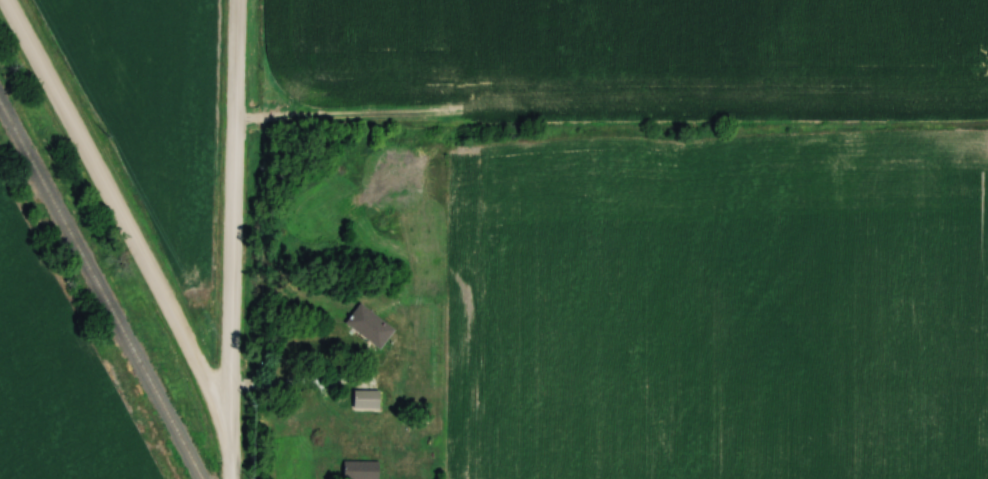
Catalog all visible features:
road: (115, 214)
road: (234, 214)
railway: (101, 290)
building: (368, 326)
road: (281, 379)
building: (365, 399)
road: (229, 454)
building: (359, 470)

